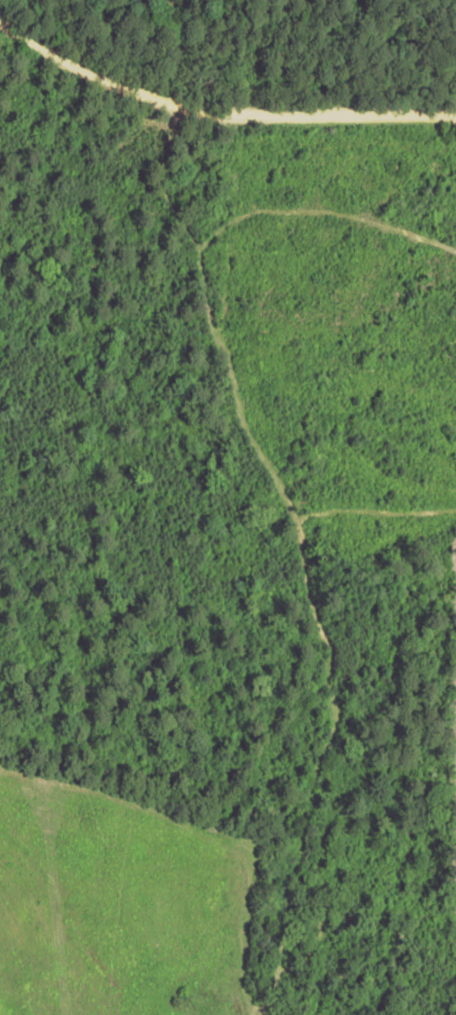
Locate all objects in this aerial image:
road: (217, 102)

